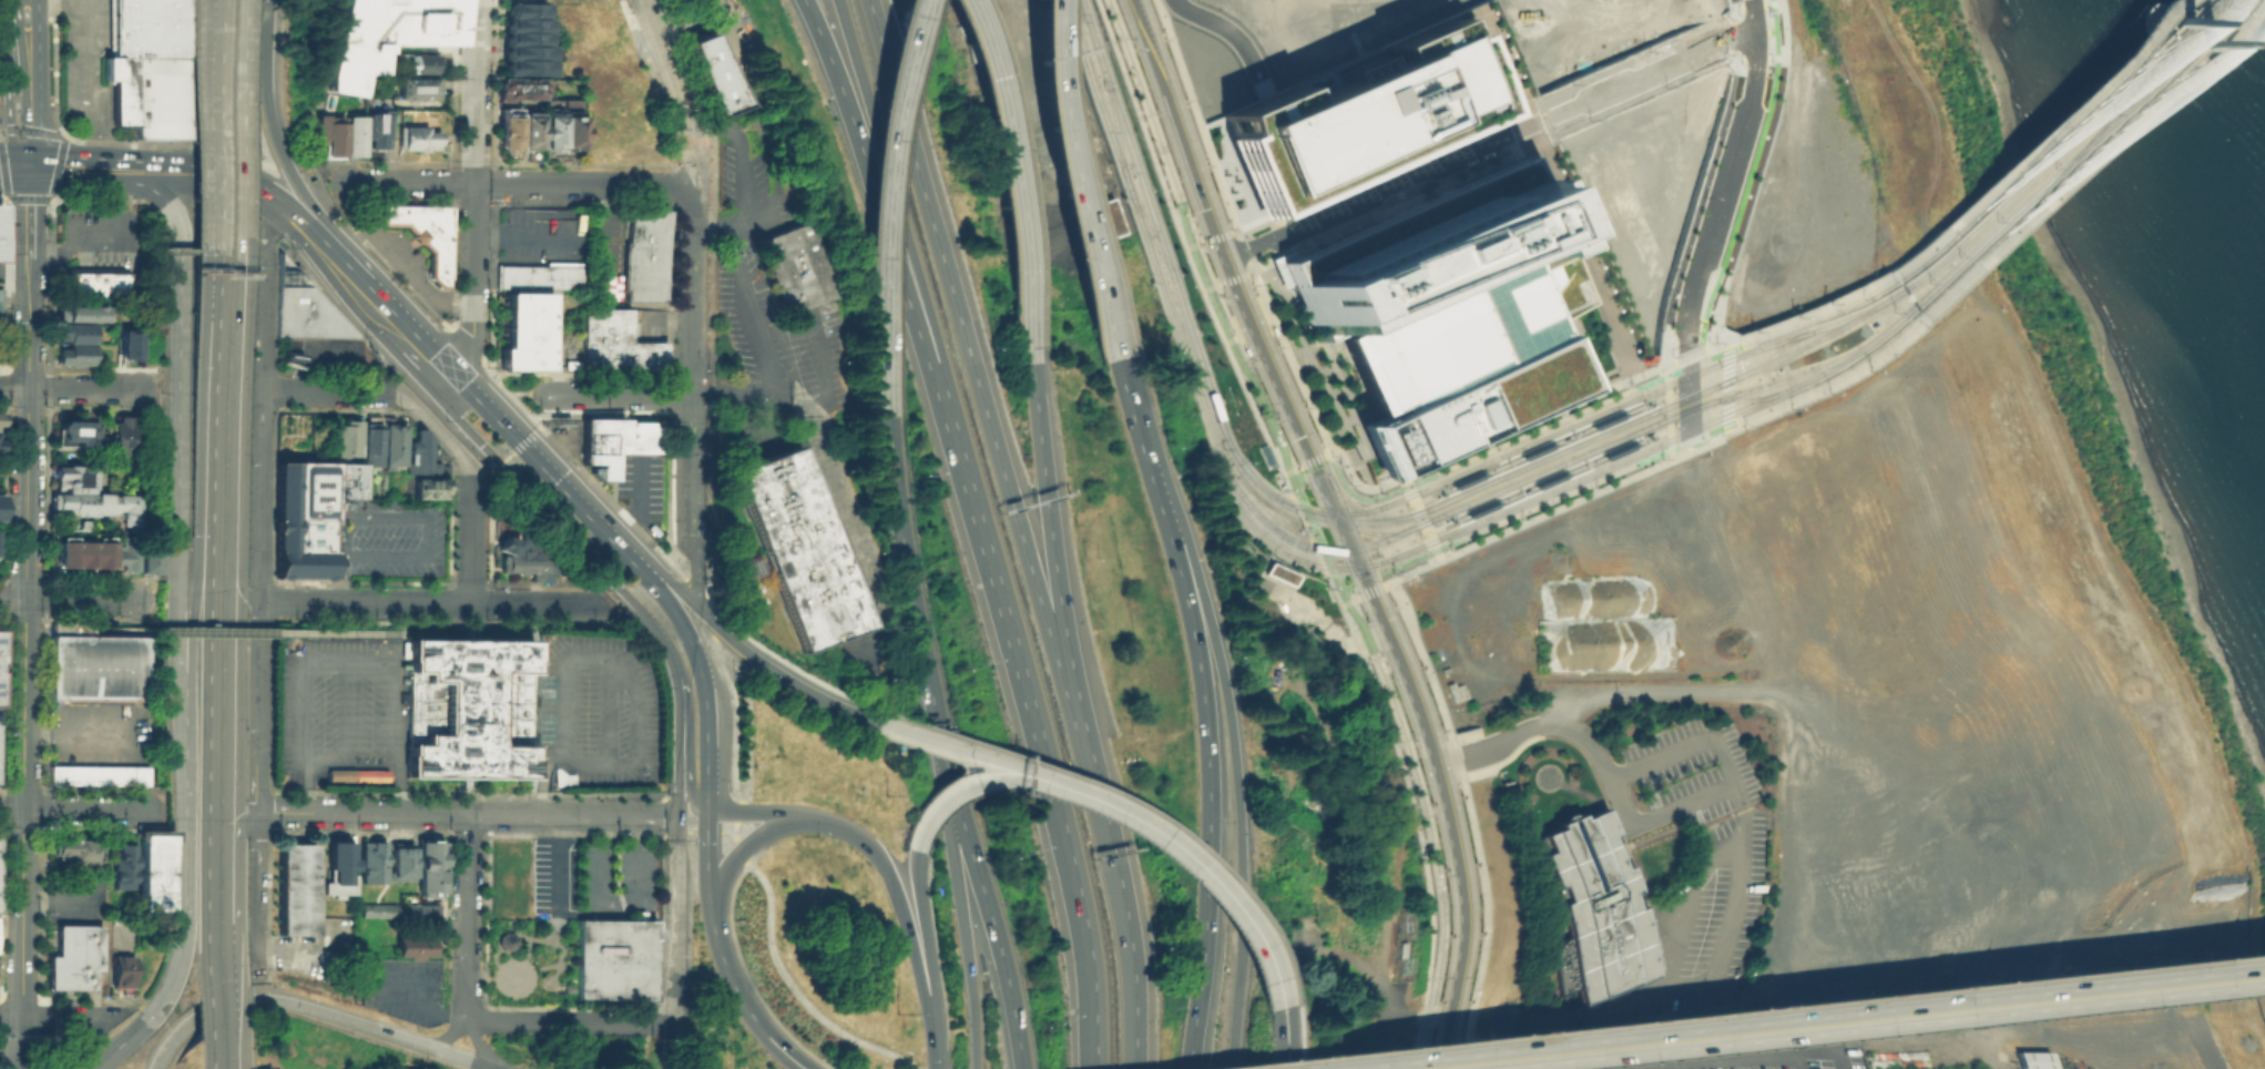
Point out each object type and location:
road: (13, 3)
building: (522, 8)
road: (1752, 14)
building: (524, 23)
road: (1220, 23)
railway: (1084, 24)
railway: (1072, 27)
road: (1763, 30)
road: (1735, 33)
building: (381, 35)
building: (523, 37)
road: (1728, 37)
road: (245, 40)
road: (8, 44)
building: (526, 51)
road: (1628, 57)
building: (424, 62)
road: (665, 64)
building: (526, 65)
building: (151, 67)
road: (53, 68)
road: (82, 70)
road: (1259, 70)
road: (1249, 74)
road: (38, 75)
building: (716, 77)
road: (2, 78)
road: (1628, 78)
road: (24, 79)
building: (416, 86)
building: (519, 88)
road: (1262, 88)
road: (1718, 105)
road: (16, 106)
road: (756, 109)
road: (7, 118)
building: (1353, 118)
road: (1195, 119)
road: (1141, 122)
road: (217, 125)
building: (376, 126)
railway: (1113, 129)
building: (507, 130)
building: (527, 130)
road: (31, 131)
road: (275, 131)
building: (548, 131)
building: (568, 131)
building: (329, 133)
building: (355, 134)
building: (416, 138)
road: (167, 142)
road: (2043, 142)
road: (739, 144)
railway: (2062, 145)
road: (8, 151)
traffic signals: (17, 151)
road: (21, 151)
traffic signals: (27, 151)
road: (33, 151)
traffic signals: (41, 152)
railway: (2077, 152)
road: (118, 156)
road: (2092, 157)
road: (320, 163)
road: (285, 164)
road: (22, 166)
road: (28, 166)
road: (34, 167)
railway: (1135, 169)
road: (239, 170)
street lamp: (1550, 170)
railway: (1122, 174)
road: (1753, 175)
road: (211, 177)
road: (1009, 177)
road: (517, 181)
road: (1742, 181)
road: (1063, 182)
road: (13, 183)
traffic signals: (29, 183)
road: (81, 183)
road: (163, 183)
road: (472, 185)
road: (1380, 187)
road: (252, 192)
road: (1552, 192)
street lamp: (1560, 192)
road: (35, 198)
road: (878, 201)
road: (896, 202)
road: (878, 206)
road: (284, 215)
road: (741, 216)
street lamp: (1571, 217)
road: (602, 223)
road: (712, 225)
road: (1231, 230)
road: (29, 231)
building: (421, 232)
road: (1707, 233)
road: (523, 234)
railway: (1150, 234)
road: (318, 235)
parking lot: (539, 235)
road: (94, 236)
parking lot: (101, 236)
road: (1214, 236)
road: (1215, 238)
road: (1197, 241)
railway: (1227, 241)
street lamp: (1582, 241)
railway: (1208, 243)
road: (1190, 244)
road: (1185, 246)
building: (1415, 246)
road: (374, 248)
road: (1242, 248)
road: (188, 252)
road: (282, 253)
road: (1194, 253)
building: (0, 254)
building: (646, 255)
road: (490, 256)
road: (692, 261)
road: (354, 262)
street lamp: (1592, 265)
road: (405, 268)
building: (795, 268)
road: (1248, 273)
building: (538, 274)
road: (1231, 278)
building: (93, 281)
road: (14, 284)
road: (1214, 284)
road: (1206, 287)
road: (29, 289)
road: (1201, 289)
road: (1215, 289)
street lamp: (1603, 289)
road: (163, 291)
road: (262, 296)
building: (0, 297)
building: (304, 308)
street lamp: (1612, 309)
building: (79, 313)
road: (1817, 313)
railway: (1855, 313)
railway: (1224, 316)
road: (961, 328)
street lamp: (1621, 328)
building: (523, 330)
railway: (1276, 330)
building: (74, 332)
road: (48, 333)
road: (1227, 338)
road: (1223, 340)
road: (463, 342)
road: (759, 342)
building: (125, 345)
building: (619, 345)
street lamp: (1630, 349)
road: (1698, 349)
parking lot: (328, 352)
road: (180, 353)
road: (1718, 353)
building: (75, 354)
road: (314, 354)
railway: (1847, 355)
road: (417, 356)
road: (1288, 356)
road: (484, 357)
building: (1451, 357)
traffic signals: (1702, 360)
building: (570, 364)
road: (173, 368)
road: (1649, 369)
road: (1235, 371)
road: (1839, 375)
road: (49, 378)
road: (823, 378)
road: (68, 388)
road: (328, 389)
building: (1554, 390)
traffic signals: (1716, 390)
road: (213, 393)
road: (612, 394)
road: (236, 397)
road: (39, 406)
road: (522, 407)
road: (1666, 410)
building: (1506, 411)
road: (1704, 411)
road: (771, 414)
traffic signals: (1664, 414)
road: (1714, 427)
building: (0, 428)
road: (436, 430)
road: (519, 430)
building: (78, 434)
building: (123, 435)
building: (345, 440)
building: (614, 440)
road: (1475, 441)
building: (369, 442)
building: (390, 442)
railway: (1565, 446)
road: (1539, 447)
road: (1491, 448)
traffic signals: (1665, 449)
road: (492, 451)
road: (512, 451)
road: (1327, 454)
building: (419, 456)
road: (1312, 460)
railway: (1588, 462)
railway: (1497, 465)
road: (1295, 468)
road: (1289, 471)
traffic signals: (1316, 471)
road: (1286, 472)
road: (1282, 474)
railway: (1533, 475)
building: (73, 477)
road: (669, 478)
road: (1545, 479)
traffic signals: (1411, 481)
railway: (1434, 481)
building: (426, 485)
road: (834, 490)
road: (1326, 493)
road: (259, 495)
road: (608, 498)
road: (636, 501)
road: (691, 501)
building: (0, 502)
road: (48, 502)
building: (98, 505)
road: (1048, 508)
road: (1545, 509)
traffic signals: (1306, 512)
building: (307, 513)
road: (1419, 515)
road: (1510, 515)
traffic signals: (1337, 518)
road: (422, 520)
building: (76, 526)
road: (1344, 533)
road: (728, 534)
road: (1309, 534)
parking lot: (394, 537)
road: (1317, 537)
road: (469, 539)
road: (211, 541)
building: (796, 547)
traffic signals: (1323, 549)
traffic signals: (1350, 549)
road: (234, 551)
traffic signals: (1426, 551)
building: (63, 553)
building: (81, 553)
building: (99, 553)
building: (124, 553)
railway: (1398, 553)
building: (147, 556)
building: (524, 558)
building: (1278, 571)
road: (992, 572)
road: (338, 577)
traffic signals: (1365, 579)
road: (169, 580)
road: (672, 580)
road: (692, 584)
road: (1368, 587)
road: (242, 588)
road: (135, 589)
road: (908, 597)
road: (65, 599)
road: (192, 599)
road: (177, 600)
road: (298, 600)
road: (161, 601)
road: (466, 602)
road: (253, 605)
road: (134, 610)
road: (716, 610)
road: (99, 614)
road: (402, 618)
road: (169, 622)
road: (1322, 624)
road: (720, 629)
road: (251, 632)
road: (24, 658)
road: (343, 661)
building: (95, 662)
road: (769, 662)
road: (624, 672)
road: (804, 673)
road: (1071, 690)
parking lot: (330, 694)
road: (705, 695)
road: (227, 701)
road: (246, 704)
building: (467, 707)
road: (602, 707)
road: (1205, 707)
road: (344, 711)
road: (748, 712)
parking lot: (593, 713)
road: (1554, 724)
parking lot: (98, 729)
road: (80, 733)
road: (1685, 739)
road: (676, 752)
road: (978, 752)
road: (688, 753)
road: (345, 761)
railway: (1445, 762)
railway: (1427, 764)
road: (1236, 771)
building: (98, 772)
building: (355, 774)
building: (278, 776)
road: (539, 778)
road: (977, 784)
road: (255, 785)
road: (180, 790)
road: (146, 800)
road: (249, 803)
road: (1134, 803)
road: (71, 808)
road: (208, 808)
road: (737, 811)
road: (748, 812)
road: (1425, 813)
road: (465, 814)
road: (1414, 814)
road: (1469, 818)
road: (238, 822)
road: (733, 826)
road: (682, 828)
road: (186, 829)
road: (706, 831)
road: (730, 831)
road: (1455, 842)
building: (75, 846)
road: (741, 848)
road: (738, 849)
road: (706, 856)
building: (363, 861)
building: (392, 861)
building: (404, 861)
building: (375, 862)
building: (119, 864)
road: (554, 864)
building: (420, 865)
building: (432, 865)
road: (466, 866)
building: (152, 868)
building: (336, 868)
parking lot: (613, 872)
road: (1203, 873)
building: (506, 876)
parking lot: (551, 876)
road: (225, 878)
building: (294, 888)
road: (894, 890)
road: (1119, 896)
parking lot: (74, 897)
road: (60, 899)
road: (619, 900)
road: (1079, 902)
road: (1679, 903)
building: (1599, 908)
road: (1736, 908)
building: (376, 909)
building: (416, 909)
road: (676, 913)
road: (990, 922)
road: (966, 923)
road: (924, 937)
building: (504, 939)
building: (412, 945)
road: (306, 951)
building: (71, 956)
building: (612, 958)
road: (466, 968)
building: (118, 970)
road: (2087, 975)
road: (746, 977)
parking lot: (399, 986)
road: (798, 990)
road: (387, 992)
road: (225, 995)
road: (737, 995)
road: (2088, 997)
road: (134, 1002)
road: (11, 1016)
road: (67, 1017)
road: (570, 1019)
road: (370, 1029)
road: (1577, 1031)
road: (445, 1035)
road: (1305, 1035)
road: (130, 1036)
road: (1292, 1037)
road: (172, 1041)
road: (12, 1042)
road: (23, 1042)
road: (478, 1042)
road: (1672, 1042)
road: (645, 1045)
road: (1522, 1045)
road: (937, 1046)
road: (1756, 1057)
building: (2055, 1059)

